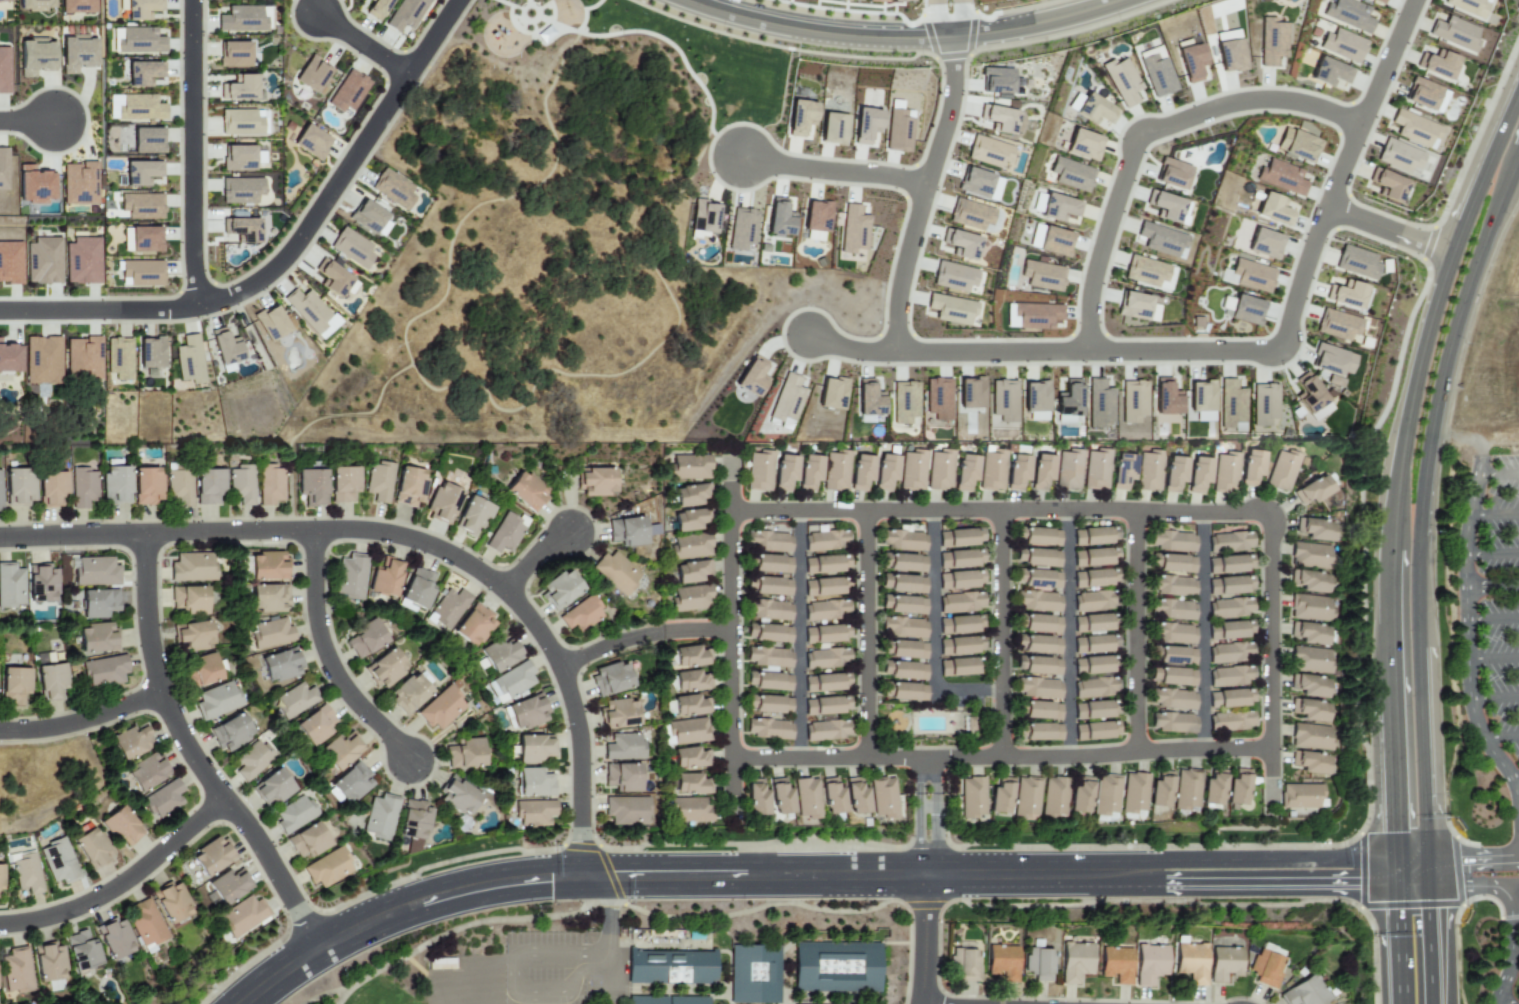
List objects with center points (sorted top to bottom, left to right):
building: (4, 0)
building: (848, 0)
building: (901, 0)
building: (875, 1)
building: (1377, 1)
building: (35, 5)
building: (1467, 7)
street lamp: (1009, 8)
building: (141, 9)
building: (376, 9)
street lamp: (831, 13)
street lamp: (287, 14)
building: (405, 14)
building: (1348, 15)
street lamp: (1384, 15)
road: (949, 18)
building: (243, 19)
street lamp: (1117, 22)
street lamp: (176, 23)
street lamp: (722, 32)
building: (1454, 33)
building: (1226, 35)
road: (904, 37)
building: (139, 41)
building: (1271, 41)
road: (361, 44)
building: (1342, 45)
building: (77, 53)
building: (233, 54)
building: (1230, 56)
building: (35, 57)
street lamp: (921, 57)
building: (1190, 60)
building: (1437, 65)
building: (4, 71)
building: (1156, 72)
building: (1329, 72)
building: (143, 73)
building: (312, 74)
building: (996, 80)
building: (1121, 81)
building: (238, 88)
building: (347, 92)
street lamp: (1352, 94)
street lamp: (413, 95)
building: (1425, 95)
street lamp: (206, 105)
building: (135, 107)
building: (1092, 109)
building: (998, 118)
building: (800, 119)
road: (26, 121)
building: (241, 122)
building: (866, 125)
street lamp: (722, 126)
building: (832, 129)
building: (1414, 129)
building: (899, 130)
road: (1139, 132)
building: (147, 140)
building: (311, 142)
street lamp: (345, 143)
building: (1083, 145)
building: (1297, 145)
building: (987, 152)
road: (190, 154)
street lamp: (956, 156)
building: (1398, 156)
building: (237, 158)
building: (3, 168)
building: (140, 172)
road: (834, 172)
building: (1071, 174)
building: (1172, 174)
building: (1281, 177)
street lamp: (1313, 178)
building: (78, 183)
building: (33, 184)
building: (979, 184)
building: (1388, 185)
building: (392, 189)
building: (240, 190)
road: (924, 194)
street lamp: (840, 197)
building: (141, 206)
building: (1167, 208)
building: (1060, 209)
building: (1273, 210)
building: (970, 215)
building: (366, 217)
building: (702, 218)
building: (778, 218)
building: (816, 220)
street lamp: (176, 221)
building: (241, 229)
building: (741, 229)
building: (853, 229)
park: (548, 230)
road: (1388, 231)
building: (141, 239)
building: (1161, 240)
building: (1054, 242)
building: (1264, 243)
building: (960, 244)
building: (351, 248)
road: (287, 253)
street lamp: (931, 253)
building: (43, 261)
building: (82, 261)
building: (10, 263)
building: (1356, 263)
street lamp: (294, 268)
building: (1144, 271)
street lamp: (1328, 272)
building: (141, 274)
building: (1042, 276)
building: (1248, 276)
building: (953, 277)
building: (335, 280)
building: (1346, 295)
street lamp: (102, 297)
street lamp: (781, 303)
building: (1136, 307)
building: (950, 309)
building: (1242, 309)
building: (310, 313)
road: (1432, 315)
building: (1032, 316)
street lamp: (199, 322)
building: (270, 322)
building: (1337, 325)
street lamp: (999, 330)
street lamp: (1190, 334)
building: (224, 348)
road: (850, 351)
building: (150, 353)
road: (1279, 356)
building: (82, 358)
building: (119, 358)
building: (9, 359)
building: (41, 360)
building: (189, 360)
building: (1333, 363)
street lamp: (1300, 371)
street lamp: (888, 379)
building: (832, 393)
building: (970, 393)
building: (1308, 394)
road: (1437, 395)
building: (1201, 396)
building: (1165, 397)
building: (868, 399)
building: (938, 399)
building: (1003, 400)
building: (1035, 400)
building: (786, 401)
building: (1133, 401)
building: (904, 402)
building: (1068, 403)
building: (1099, 403)
building: (1264, 404)
building: (1231, 406)
road: (1471, 439)
building: (689, 467)
building: (1251, 467)
building: (992, 469)
building: (1096, 469)
building: (912, 470)
building: (939, 470)
building: (1068, 470)
building: (759, 471)
building: (836, 471)
building: (1017, 471)
building: (1122, 471)
building: (1149, 471)
building: (1281, 471)
building: (784, 472)
building: (809, 472)
building: (861, 472)
building: (885, 472)
building: (965, 472)
building: (1042, 472)
building: (1174, 473)
building: (1224, 473)
building: (1198, 474)
road: (1498, 476)
building: (379, 481)
building: (597, 482)
building: (116, 484)
building: (241, 484)
building: (343, 484)
building: (269, 485)
building: (19, 486)
building: (146, 486)
building: (208, 486)
building: (83, 487)
building: (179, 487)
building: (311, 487)
building: (409, 487)
building: (52, 489)
building: (1312, 491)
building: (1, 492)
building: (526, 492)
building: (690, 495)
road: (730, 496)
building: (443, 503)
road: (1494, 515)
building: (472, 516)
building: (689, 519)
building: (1314, 529)
building: (627, 531)
building: (506, 533)
building: (1039, 536)
building: (1090, 536)
building: (960, 537)
road: (412, 538)
building: (902, 540)
building: (768, 541)
building: (1171, 541)
building: (1229, 542)
building: (689, 546)
road: (1491, 554)
building: (1308, 555)
road: (532, 557)
building: (1095, 557)
building: (960, 558)
building: (1040, 558)
building: (902, 562)
building: (769, 563)
building: (1172, 563)
building: (825, 564)
building: (1229, 564)
building: (267, 566)
building: (192, 567)
building: (690, 571)
building: (95, 572)
building: (615, 572)
building: (351, 577)
building: (385, 578)
building: (1037, 578)
building: (1094, 578)
building: (960, 580)
building: (1308, 581)
building: (902, 583)
building: (41, 584)
building: (1171, 585)
building: (1229, 585)
building: (10, 586)
building: (767, 586)
road: (1492, 586)
building: (822, 587)
building: (560, 589)
building: (416, 591)
building: (268, 598)
building: (689, 598)
building: (189, 599)
building: (1037, 601)
building: (1092, 601)
building: (960, 602)
building: (98, 603)
building: (902, 604)
building: (1307, 607)
building: (1229, 608)
building: (447, 609)
building: (1172, 609)
building: (769, 610)
building: (825, 610)
building: (581, 615)
road: (1492, 619)
parking lot: (1492, 620)
building: (1038, 623)
building: (1091, 623)
building: (960, 624)
building: (472, 625)
road: (1387, 625)
building: (902, 627)
building: (1229, 629)
road: (932, 630)
road: (1134, 631)
road: (1202, 631)
building: (271, 633)
building: (768, 633)
road: (999, 633)
road: (1067, 633)
building: (1173, 633)
building: (1307, 633)
road: (797, 634)
building: (826, 634)
road: (865, 634)
building: (193, 635)
road: (641, 635)
building: (97, 638)
building: (366, 639)
building: (1037, 644)
building: (1091, 644)
building: (956, 646)
building: (903, 649)
building: (1230, 652)
building: (498, 654)
building: (1174, 656)
building: (690, 657)
building: (768, 657)
road: (327, 658)
building: (826, 659)
road: (1492, 659)
building: (1308, 660)
building: (280, 665)
building: (1091, 665)
building: (1041, 666)
building: (957, 667)
building: (386, 668)
building: (903, 670)
building: (103, 671)
building: (200, 671)
building: (1172, 676)
building: (1230, 676)
building: (611, 679)
building: (50, 681)
building: (690, 681)
building: (768, 681)
building: (510, 682)
building: (826, 682)
building: (14, 686)
building: (1308, 686)
building: (1037, 688)
building: (1092, 688)
building: (412, 691)
building: (903, 691)
building: (1230, 698)
road: (1494, 698)
building: (1172, 699)
building: (295, 700)
building: (217, 701)
building: (768, 704)
building: (826, 705)
building: (690, 706)
building: (440, 708)
building: (1040, 710)
building: (1092, 710)
building: (1308, 710)
building: (525, 712)
building: (619, 714)
road: (1474, 718)
road: (81, 720)
building: (1230, 721)
building: (1171, 722)
building: (316, 725)
building: (768, 729)
building: (1096, 730)
building: (687, 731)
building: (825, 731)
building: (230, 732)
building: (1038, 732)
building: (1310, 737)
road: (1501, 737)
building: (131, 742)
building: (624, 747)
building: (533, 749)
road: (1264, 749)
building: (340, 751)
road: (1421, 752)
building: (464, 754)
road: (191, 755)
building: (690, 758)
building: (252, 761)
building: (1308, 762)
road: (1270, 763)
building: (146, 772)
road: (1514, 776)
building: (623, 777)
road: (731, 777)
road: (918, 782)
road: (936, 782)
building: (351, 783)
building: (534, 783)
building: (691, 784)
building: (1212, 787)
building: (272, 788)
building: (1237, 788)
building: (1160, 790)
building: (1185, 790)
road: (1393, 792)
building: (1133, 793)
building: (1105, 795)
building: (457, 796)
building: (1080, 796)
building: (1298, 796)
building: (780, 797)
building: (856, 797)
building: (971, 797)
building: (1000, 797)
building: (1053, 797)
building: (755, 798)
building: (806, 798)
building: (832, 798)
building: (883, 798)
building: (1025, 798)
building: (162, 800)
road: (927, 806)
building: (627, 810)
building: (689, 810)
building: (533, 812)
building: (294, 814)
building: (379, 817)
building: (413, 820)
building: (122, 827)
traffic signals: (1395, 833)
building: (307, 840)
road: (918, 840)
traffic signals: (581, 841)
road: (937, 841)
building: (92, 848)
building: (211, 856)
traffic signals: (1463, 857)
road: (1410, 858)
road: (1279, 860)
building: (57, 862)
building: (327, 868)
road: (1142, 868)
road: (1425, 871)
building: (25, 872)
road: (864, 875)
road: (594, 877)
traffic signals: (616, 877)
traffic signals: (550, 879)
road: (121, 882)
road: (1258, 883)
traffic signals: (1354, 883)
road: (1411, 884)
building: (0, 885)
road: (1508, 886)
building: (229, 887)
building: (171, 902)
road: (399, 909)
road: (1509, 909)
traffic signals: (1427, 914)
building: (241, 916)
building: (145, 922)
road: (924, 939)
road: (607, 940)
road: (1399, 943)
road: (1428, 944)
building: (82, 951)
road: (546, 952)
building: (1075, 961)
building: (48, 962)
building: (1003, 962)
building: (1190, 962)
road: (593, 963)
building: (964, 963)
building: (1038, 963)
building: (1149, 963)
building: (1224, 963)
building: (1116, 964)
building: (1266, 965)
building: (15, 969)
building: (674, 969)
building: (840, 969)
road: (453, 975)
building: (756, 976)
road: (501, 988)
building: (1304, 991)
road: (542, 995)
road: (491, 996)
park: (306, 997)
building: (650, 1001)
building: (691, 1001)
road: (1496, 1003)

